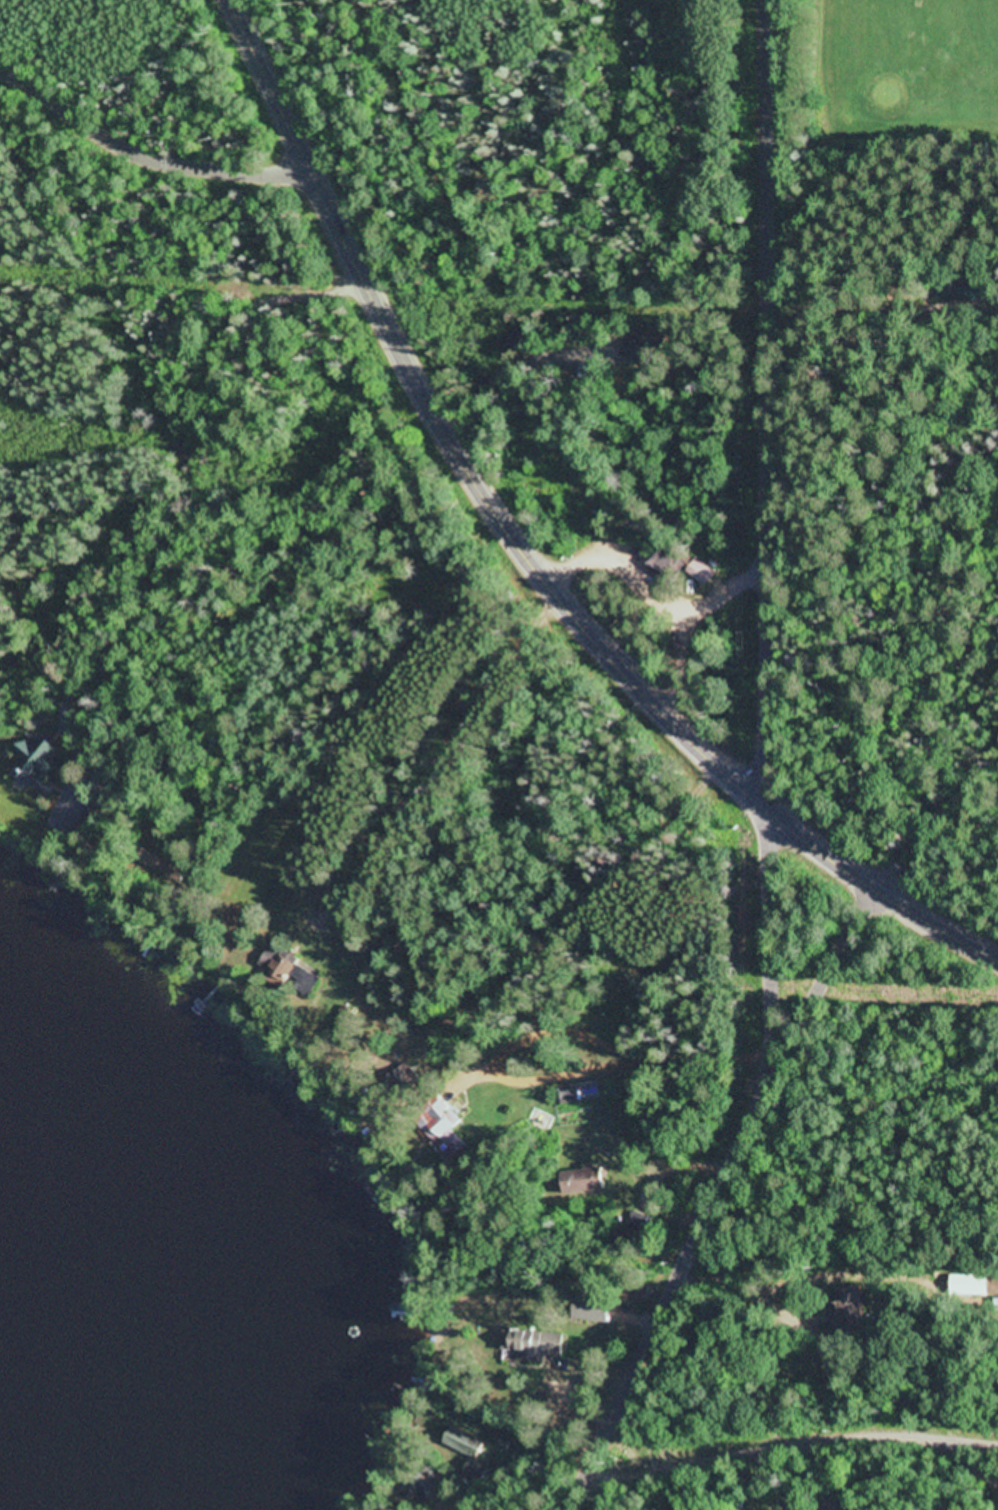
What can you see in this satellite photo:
road: (145, 146)
building: (600, 352)
building: (646, 358)
road: (777, 406)
road: (522, 551)
building: (682, 563)
building: (42, 760)
building: (281, 963)
building: (447, 1129)
road: (729, 1175)
building: (586, 1180)
building: (640, 1225)
building: (595, 1309)
building: (531, 1345)
road: (797, 1437)

